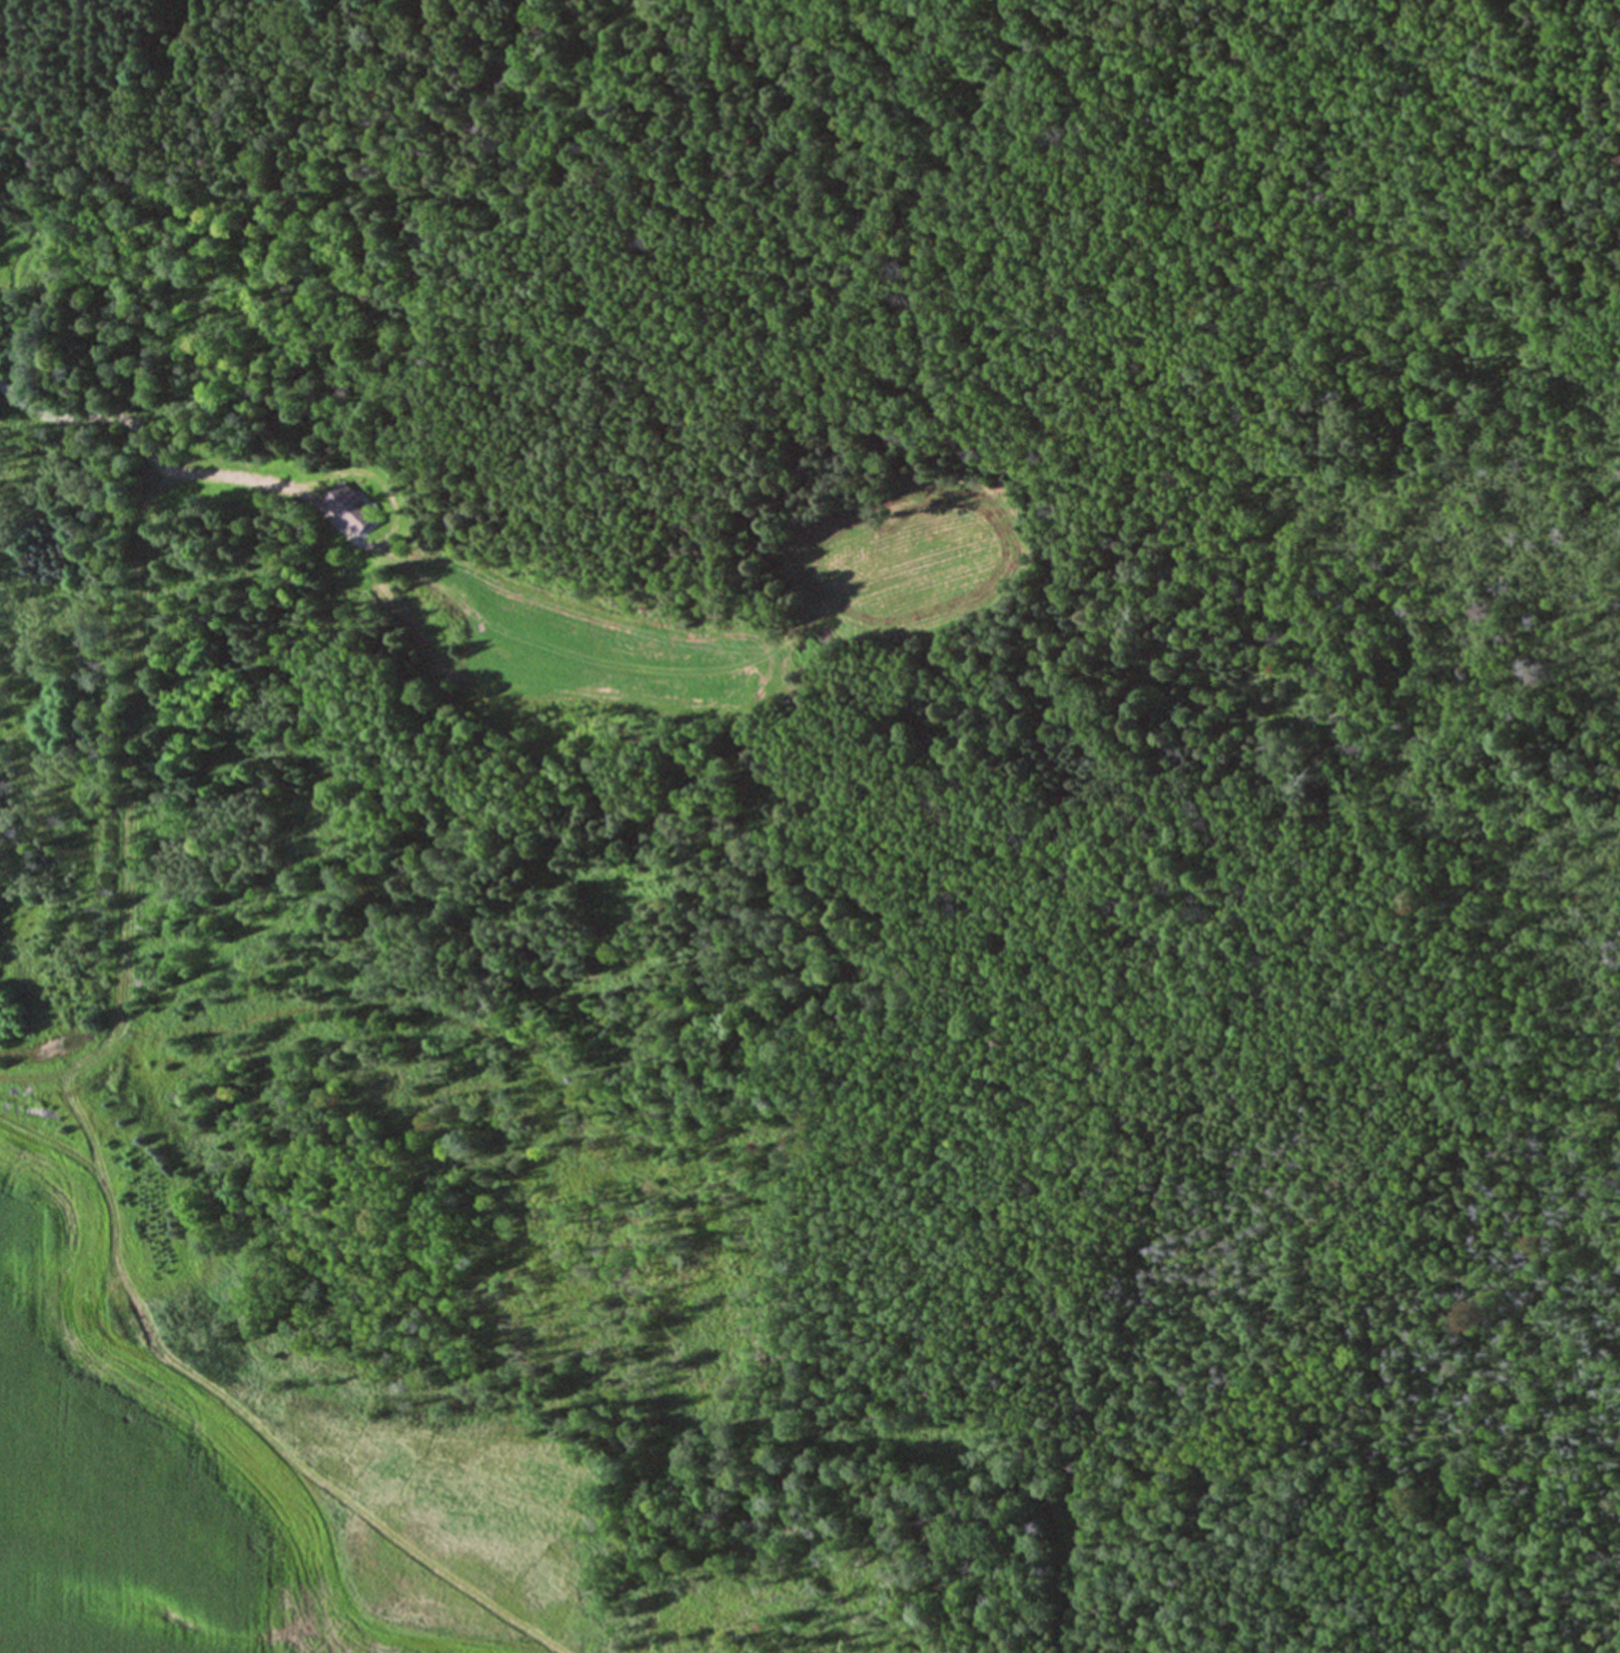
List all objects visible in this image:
road: (125, 429)
building: (358, 511)

